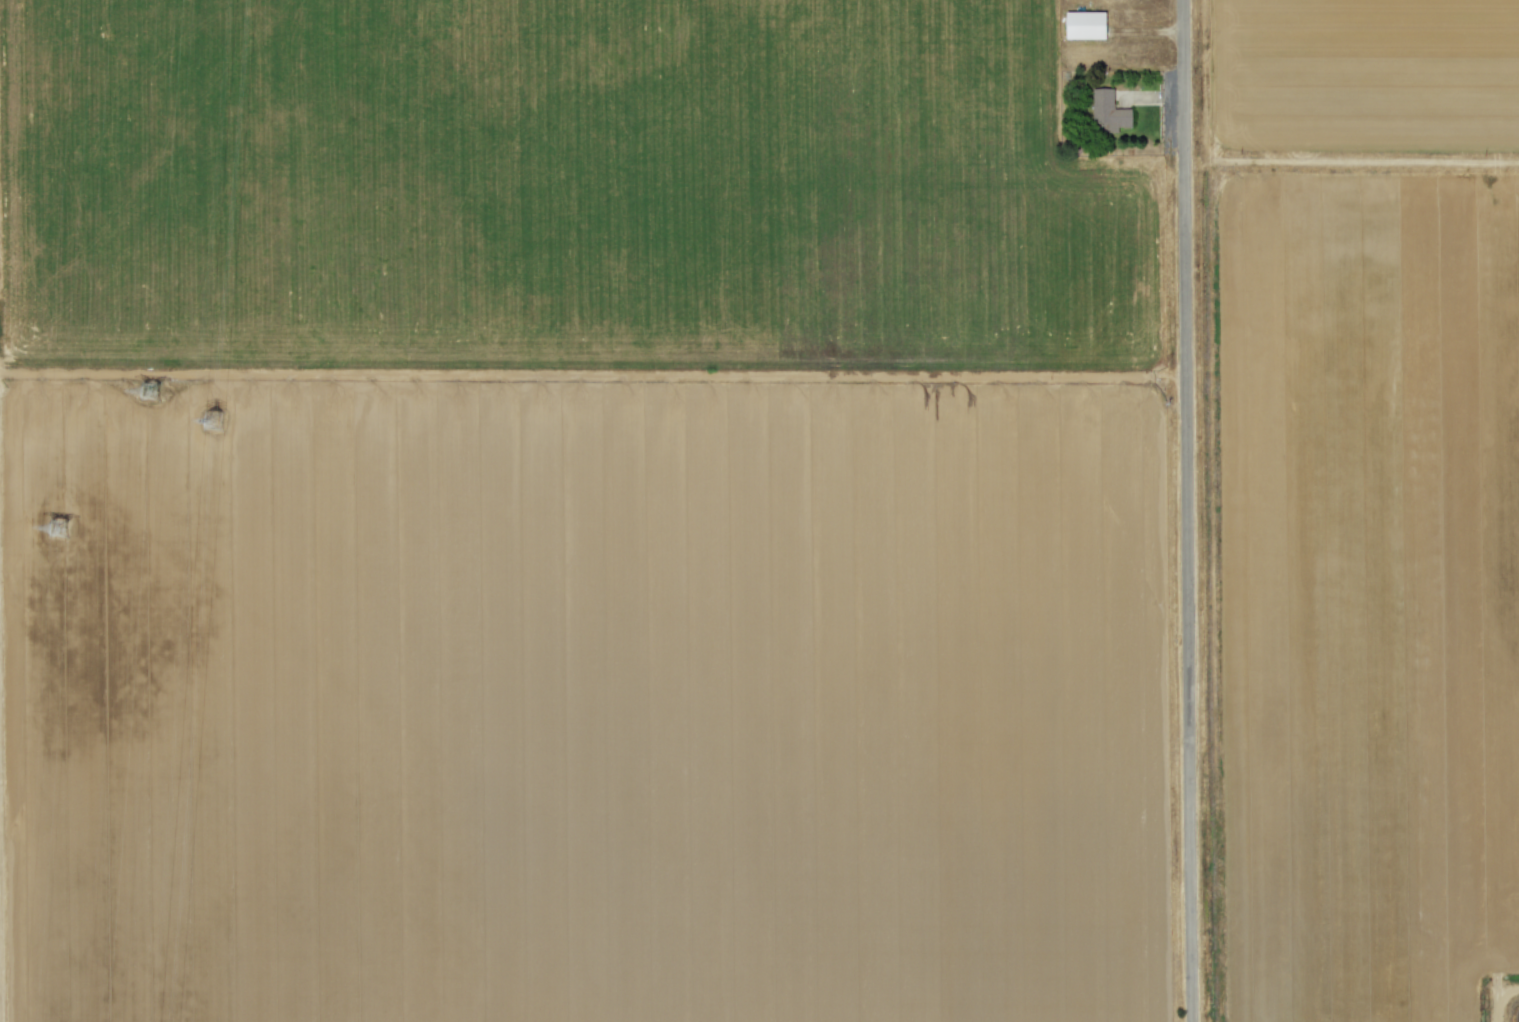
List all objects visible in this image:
building: (1085, 24)
building: (1108, 110)
power tower: (142, 386)
power tower: (215, 427)
road: (1187, 511)
power tower: (61, 540)

